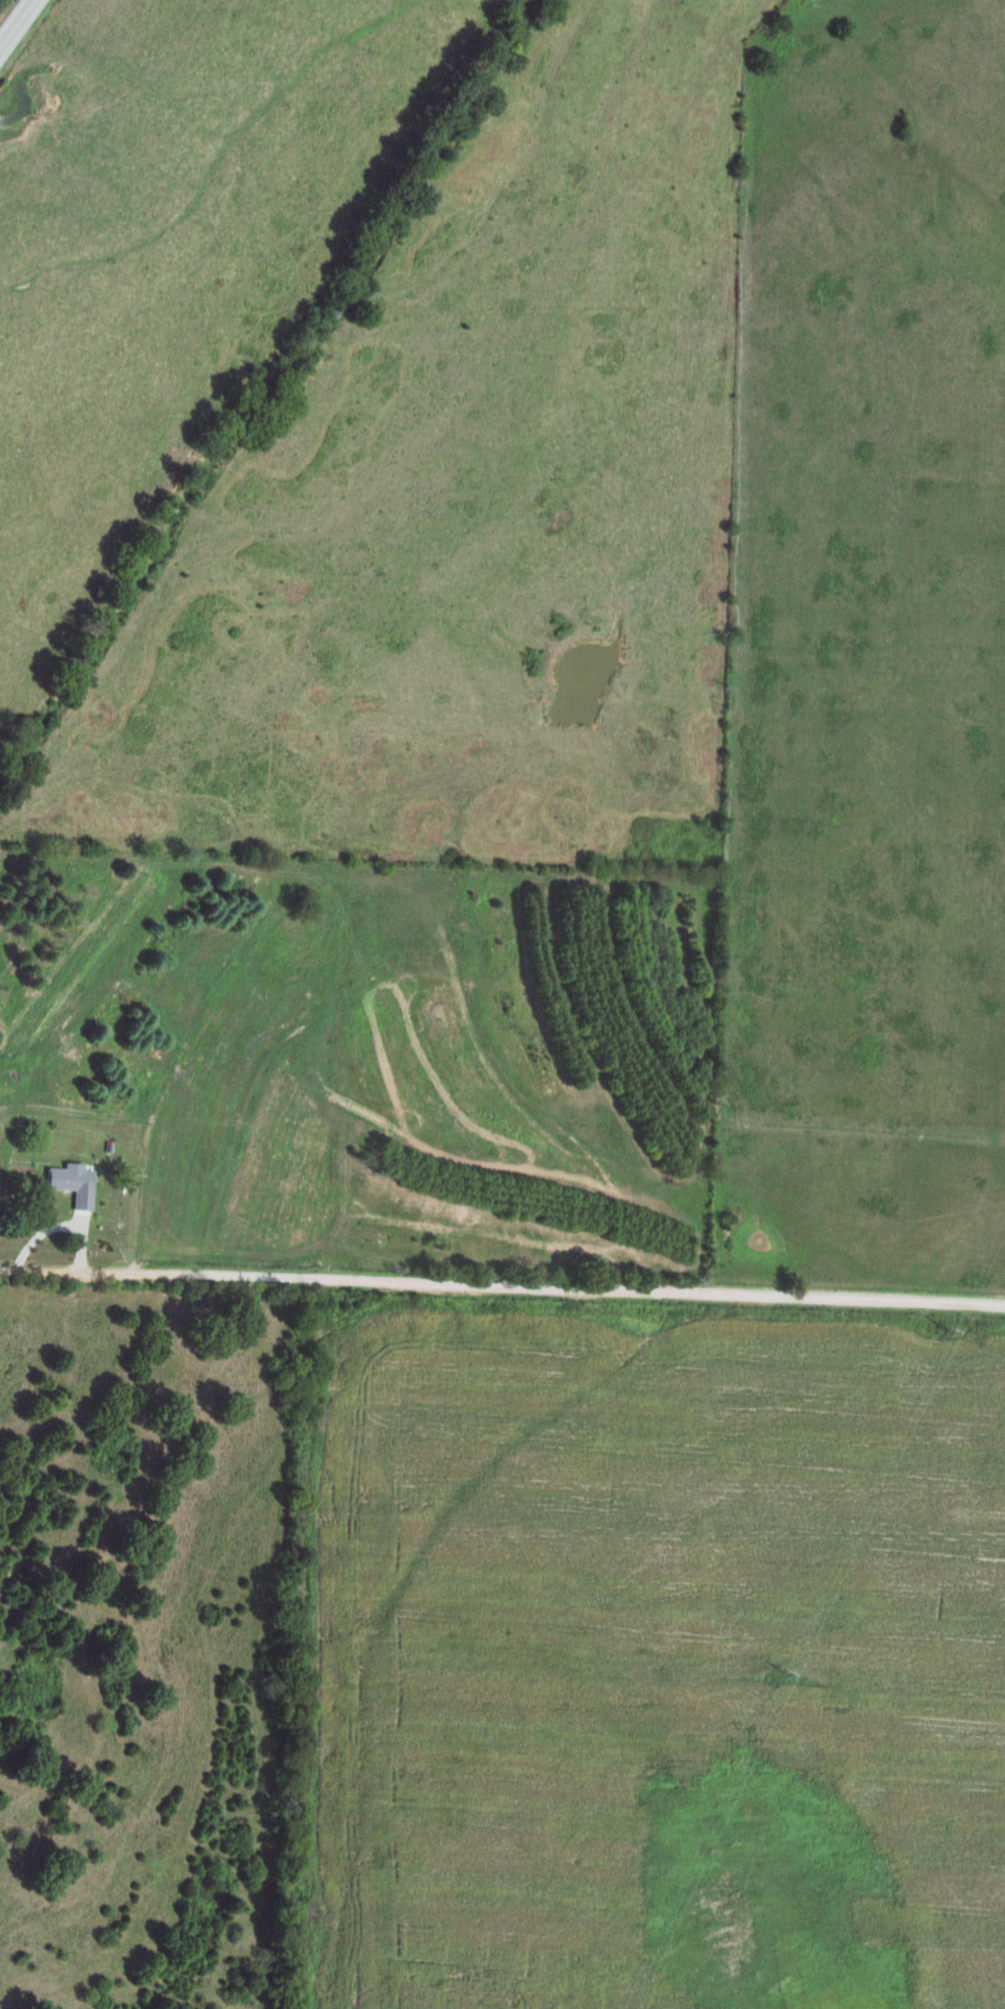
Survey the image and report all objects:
road: (15, 21)
building: (67, 1175)
road: (502, 1283)

